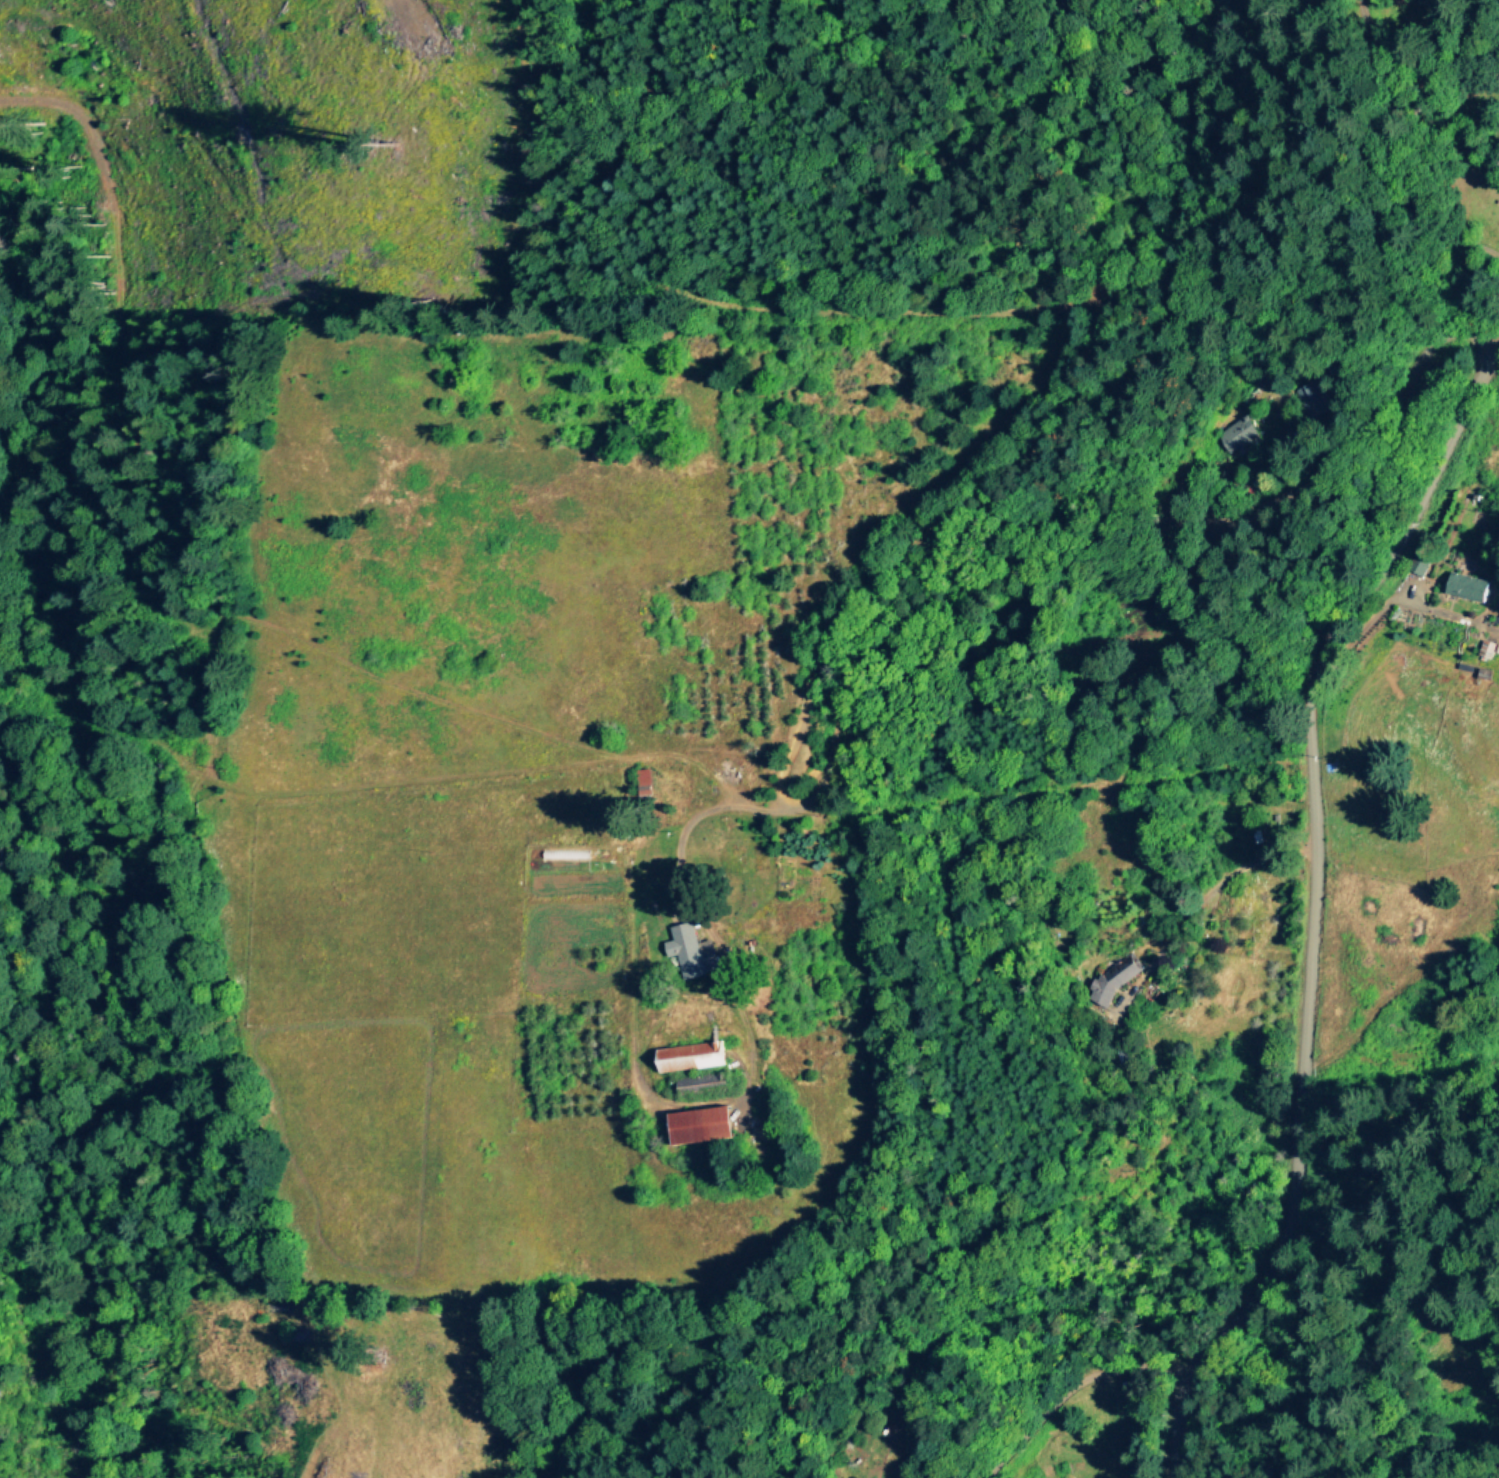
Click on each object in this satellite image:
road: (1414, 137)
building: (1316, 397)
building: (1237, 434)
road: (1019, 435)
building: (1467, 584)
building: (1487, 647)
road: (961, 648)
building: (648, 779)
road: (1218, 883)
road: (1311, 905)
building: (692, 949)
building: (1116, 976)
building: (692, 1055)
road: (1093, 1392)

